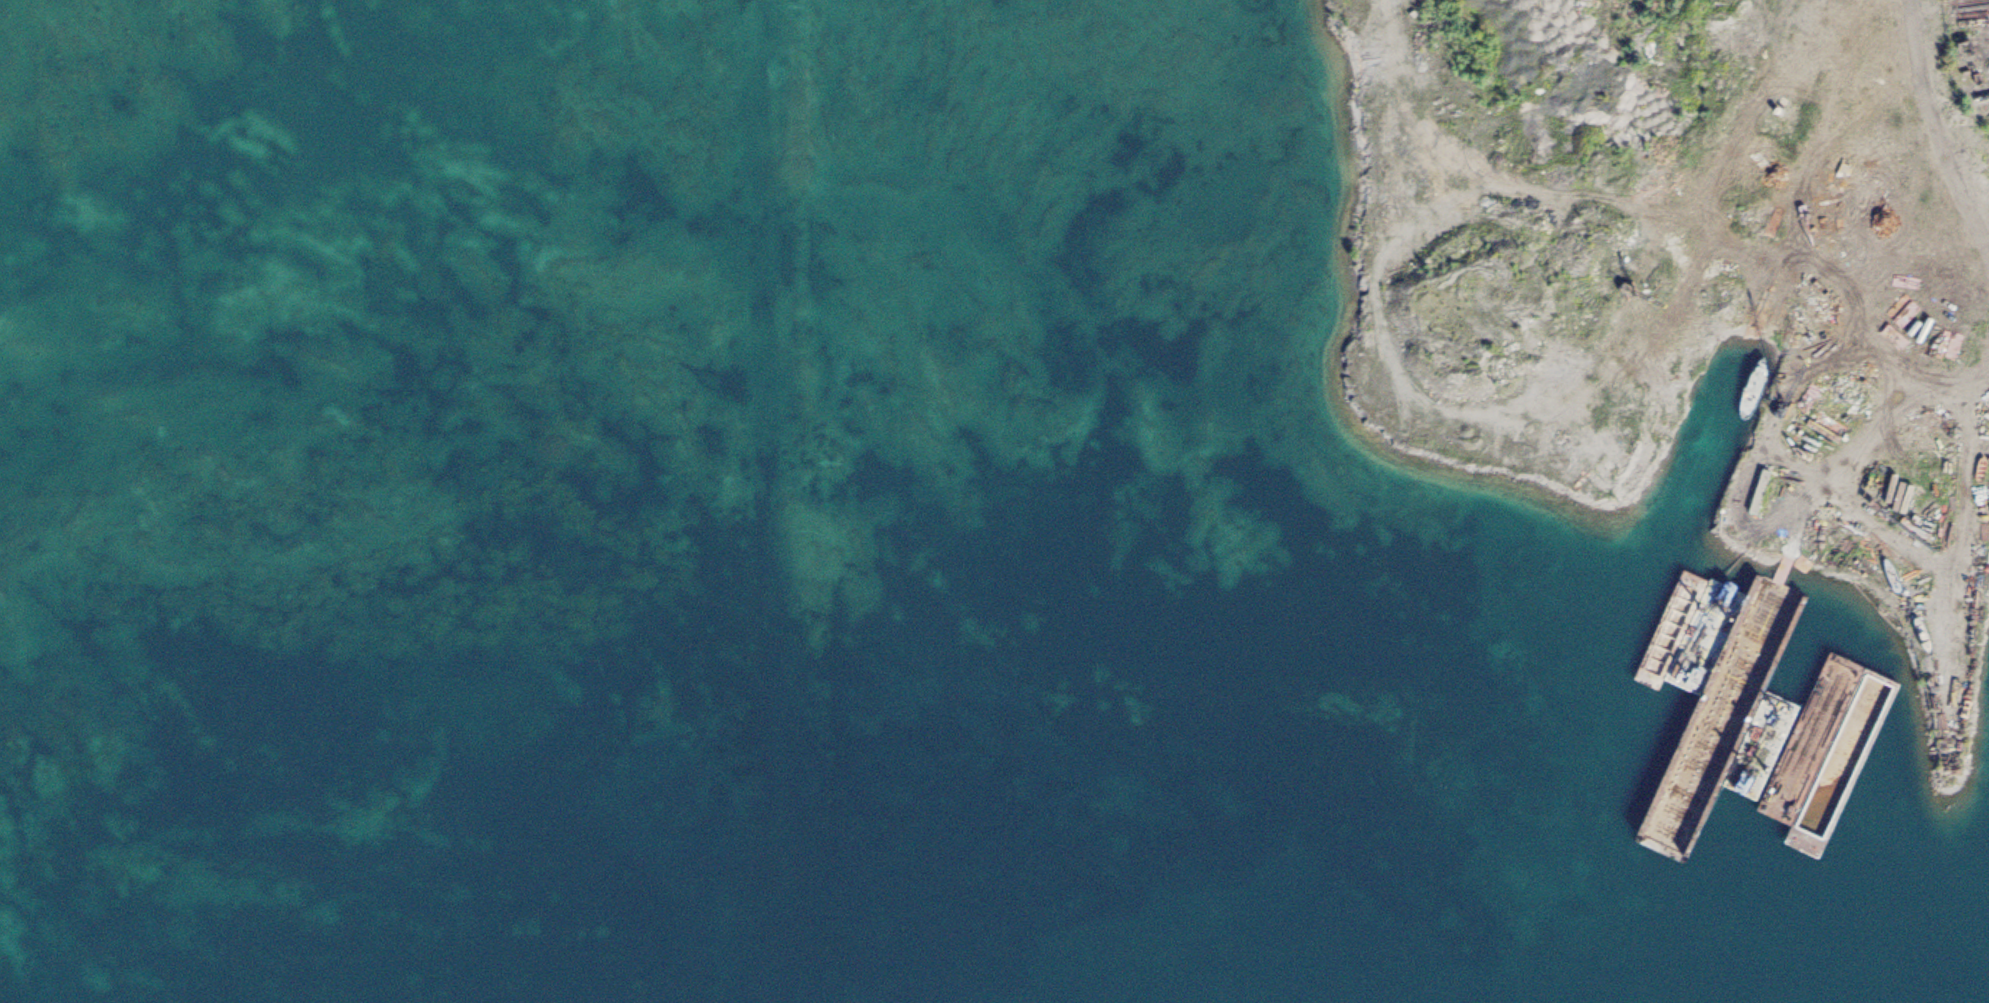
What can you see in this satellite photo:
building: (1768, 694)

